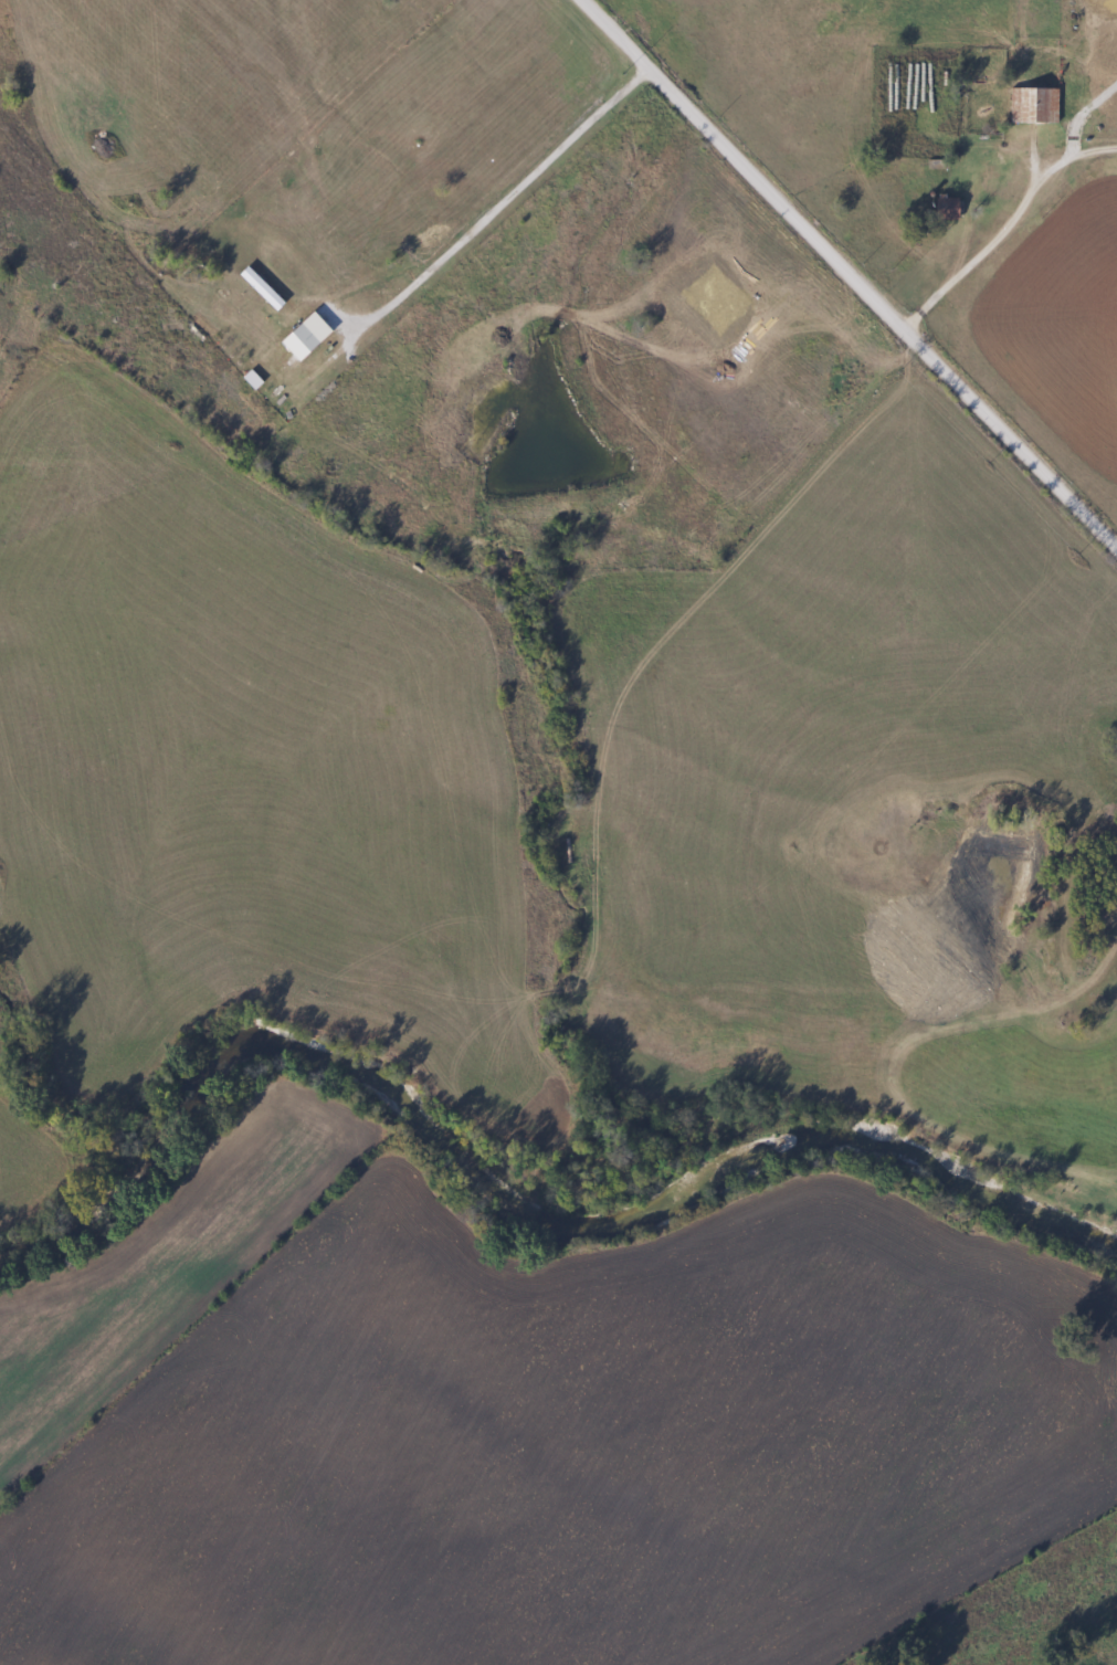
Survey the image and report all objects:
building: (1032, 106)
road: (505, 198)
building: (945, 208)
road: (1005, 229)
road: (851, 276)

